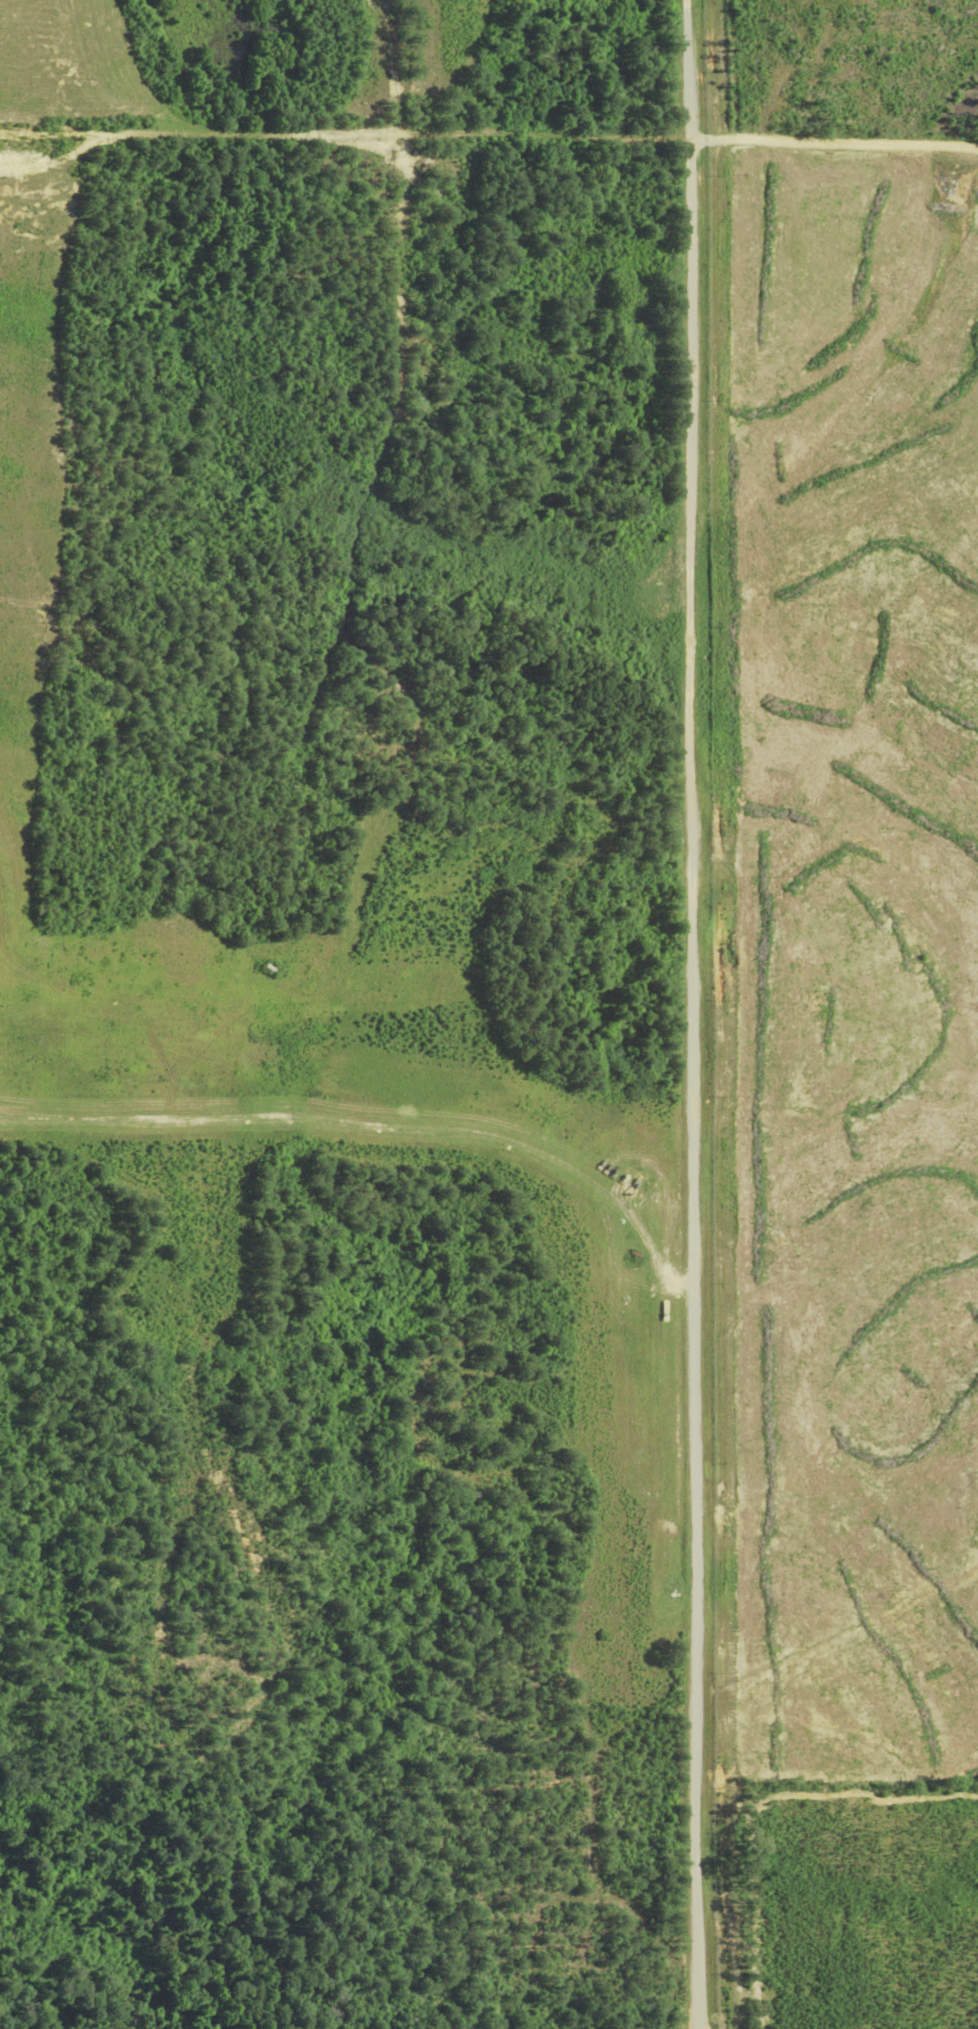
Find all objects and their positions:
road: (346, 139)
road: (697, 1014)

